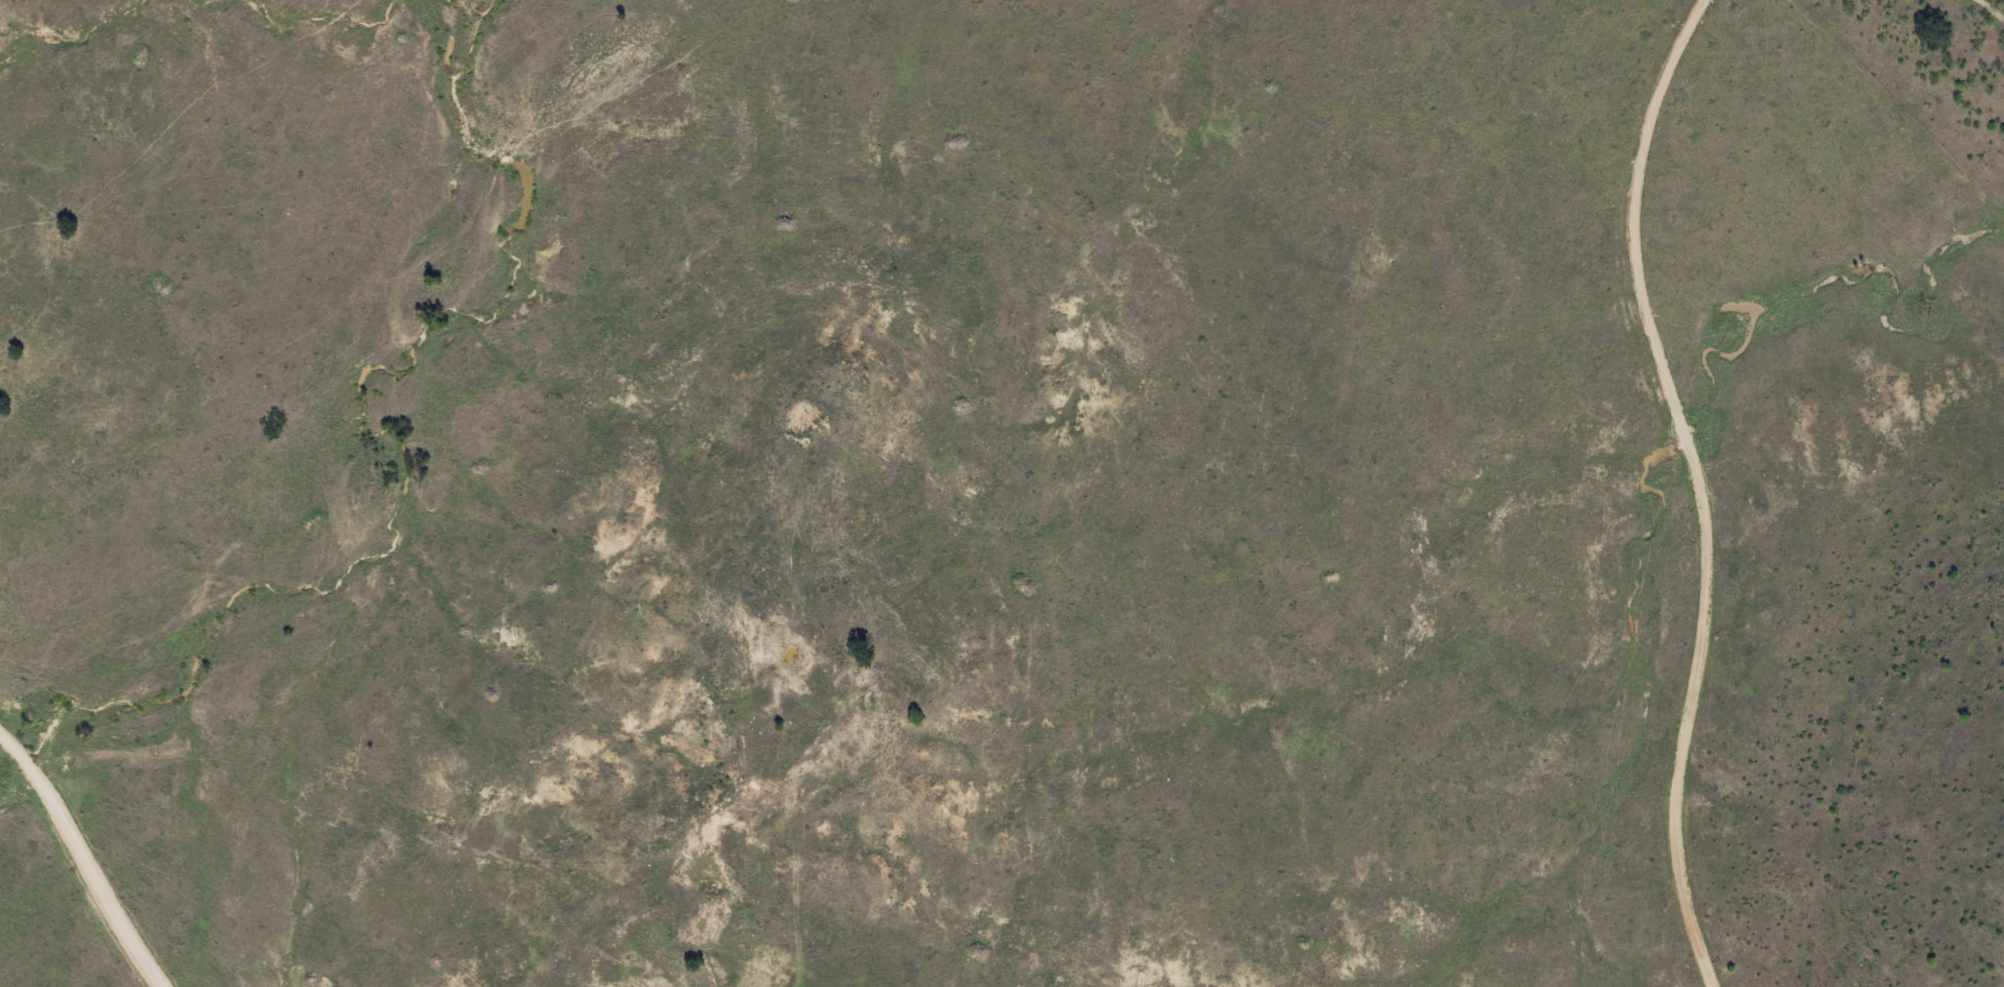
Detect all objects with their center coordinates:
road: (1687, 486)
road: (90, 867)

